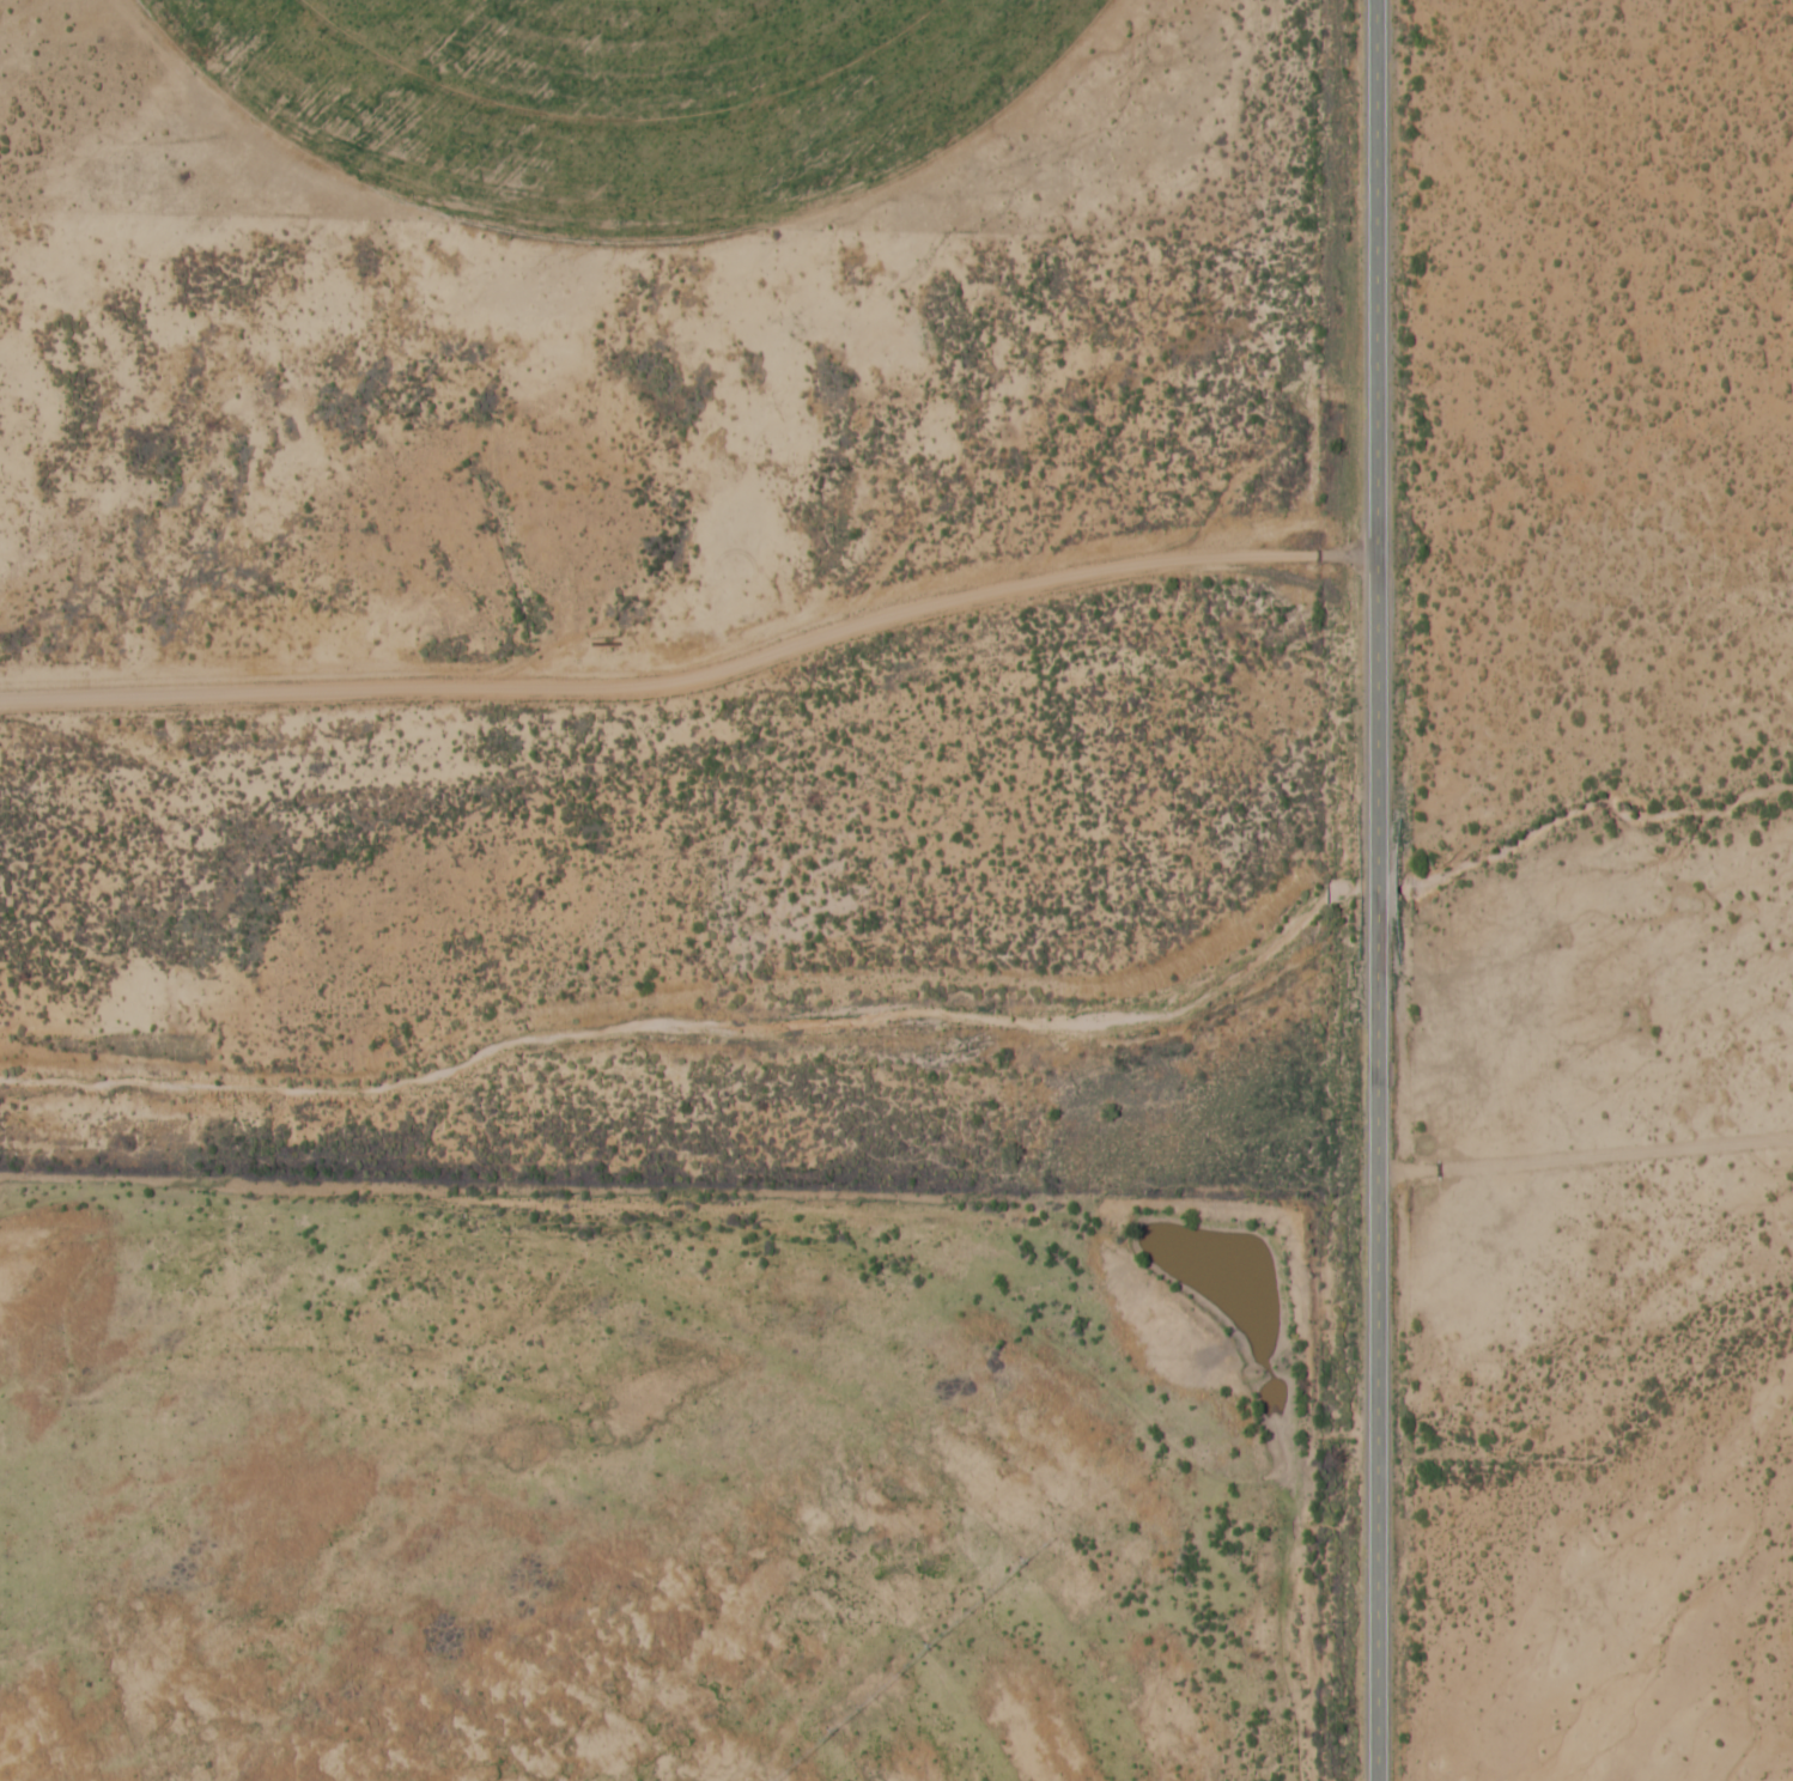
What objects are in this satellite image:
crop: (633, 97)
road: (691, 677)
road: (1370, 891)
road: (1582, 1160)
crop: (500, 1536)

